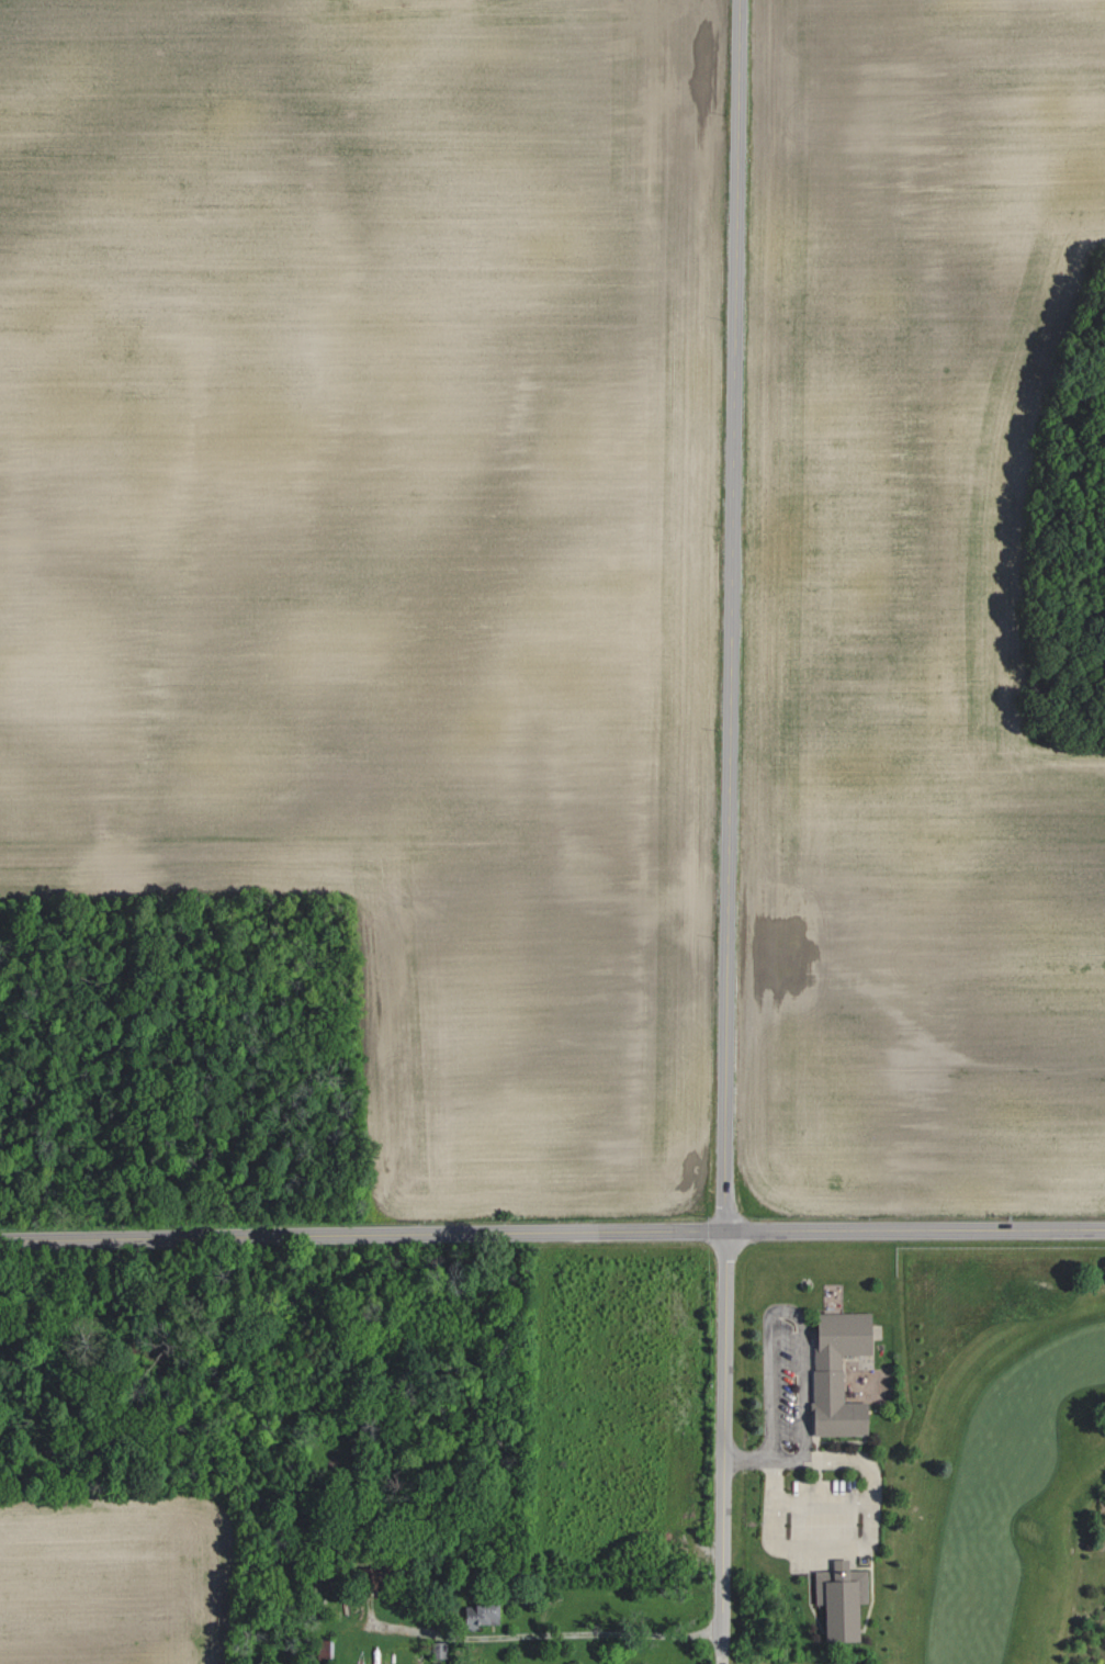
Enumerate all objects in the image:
road: (729, 831)
road: (552, 1232)
building: (834, 1369)
road: (765, 1459)
park: (982, 1473)
road: (848, 1545)
building: (836, 1601)
building: (475, 1615)
road: (546, 1632)
building: (325, 1648)
building: (437, 1649)

